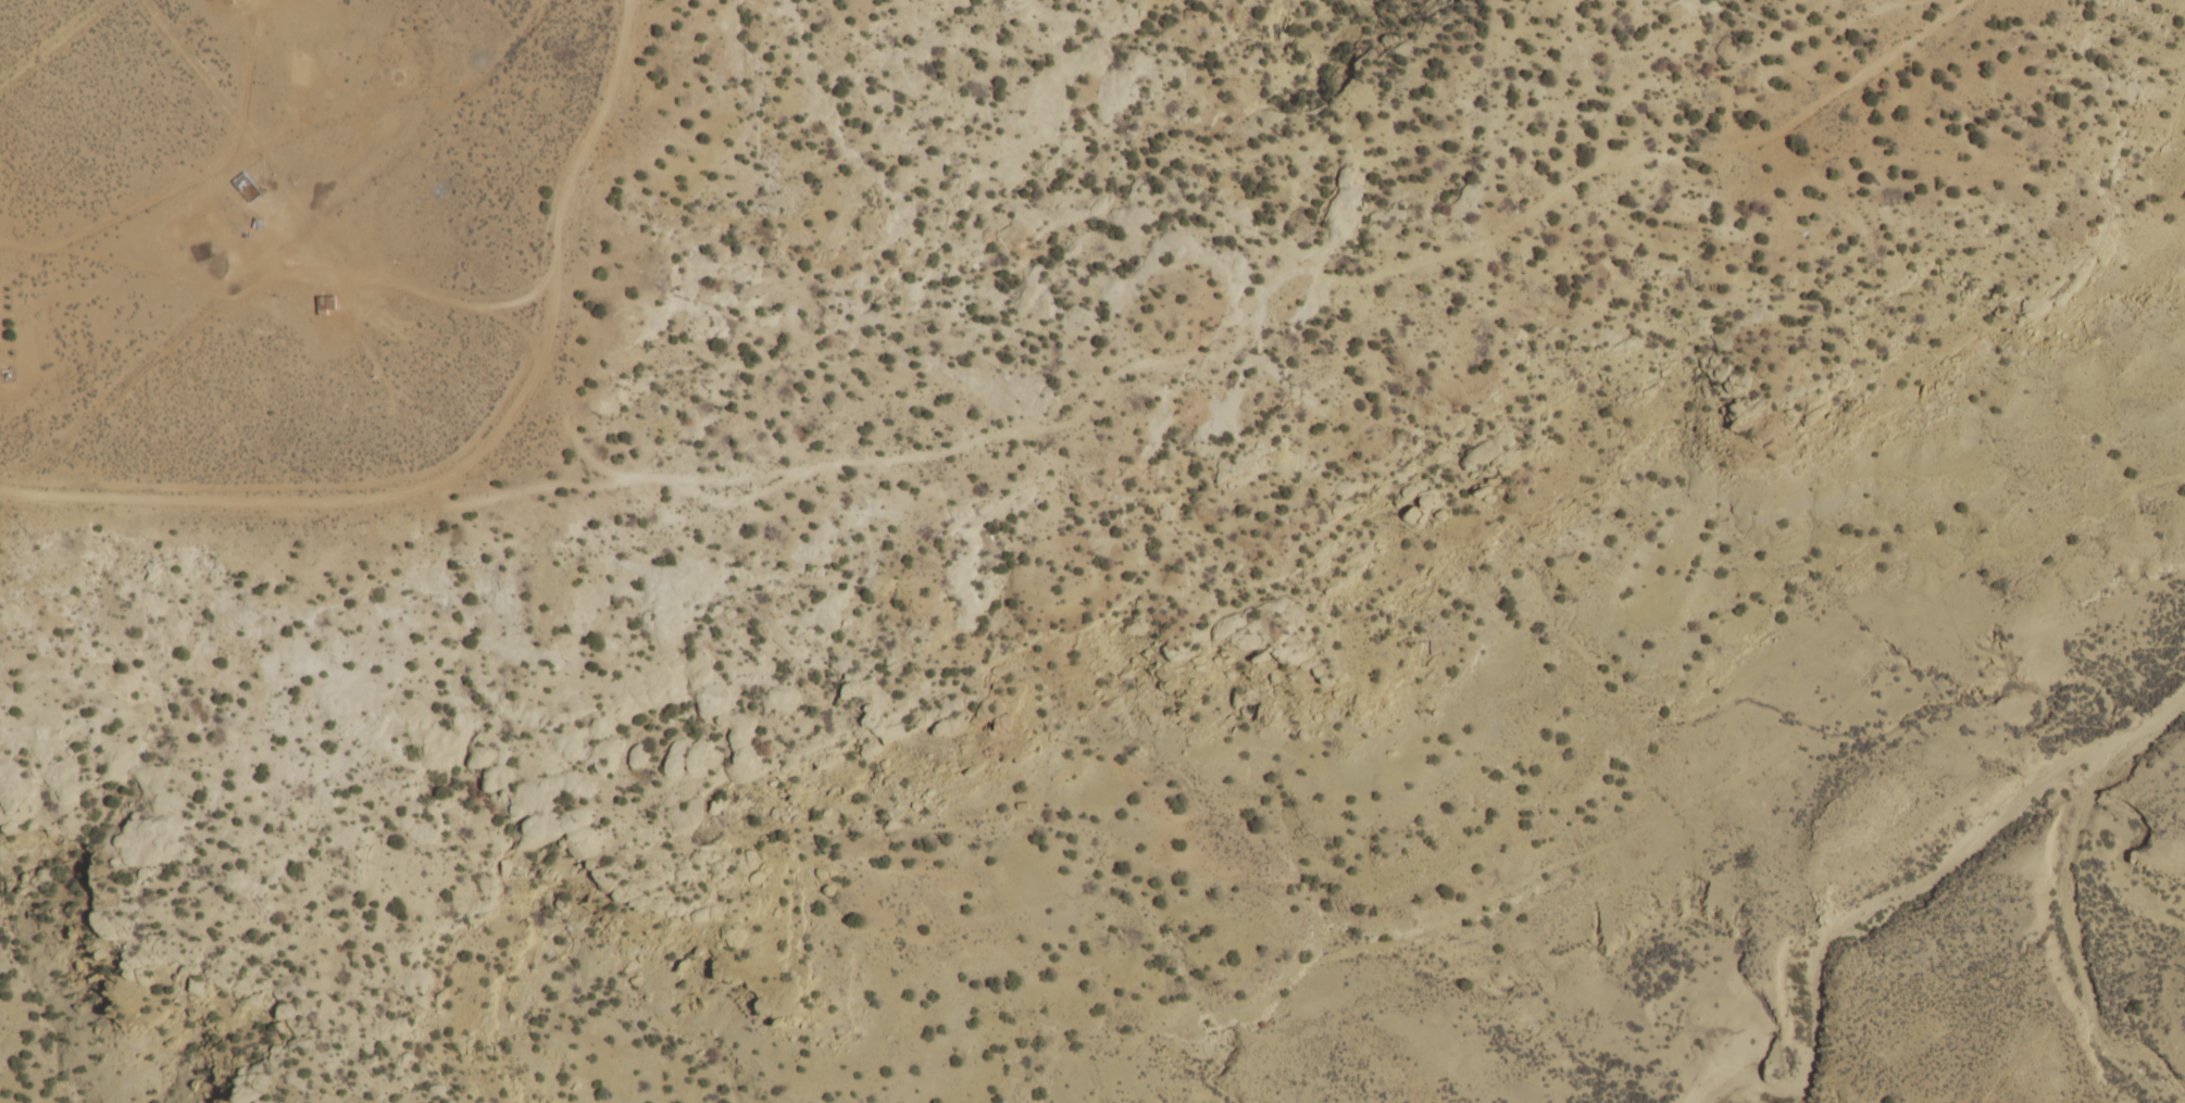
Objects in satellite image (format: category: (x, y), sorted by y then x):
building: (217, 1)
road: (616, 47)
road: (555, 211)
building: (195, 252)
road: (1299, 270)
building: (322, 303)
road: (41, 496)
road: (352, 498)

